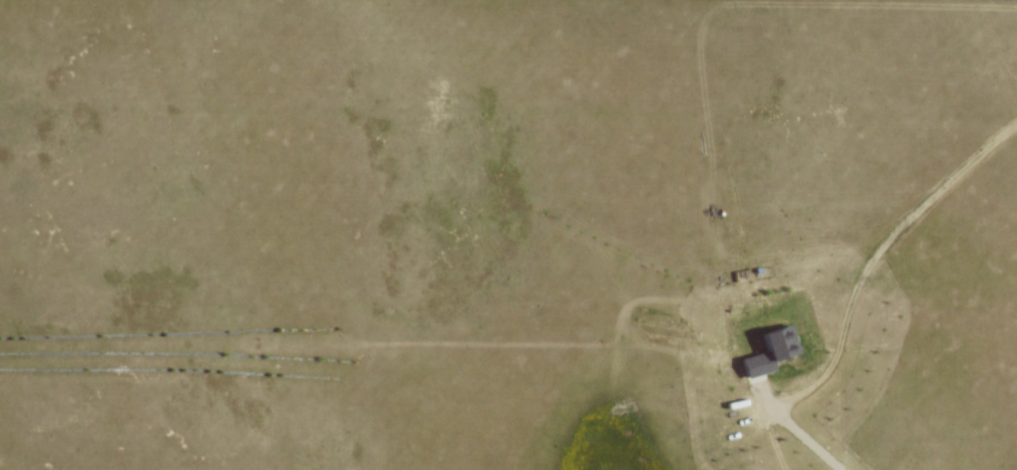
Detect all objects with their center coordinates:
building: (771, 345)
road: (793, 426)

